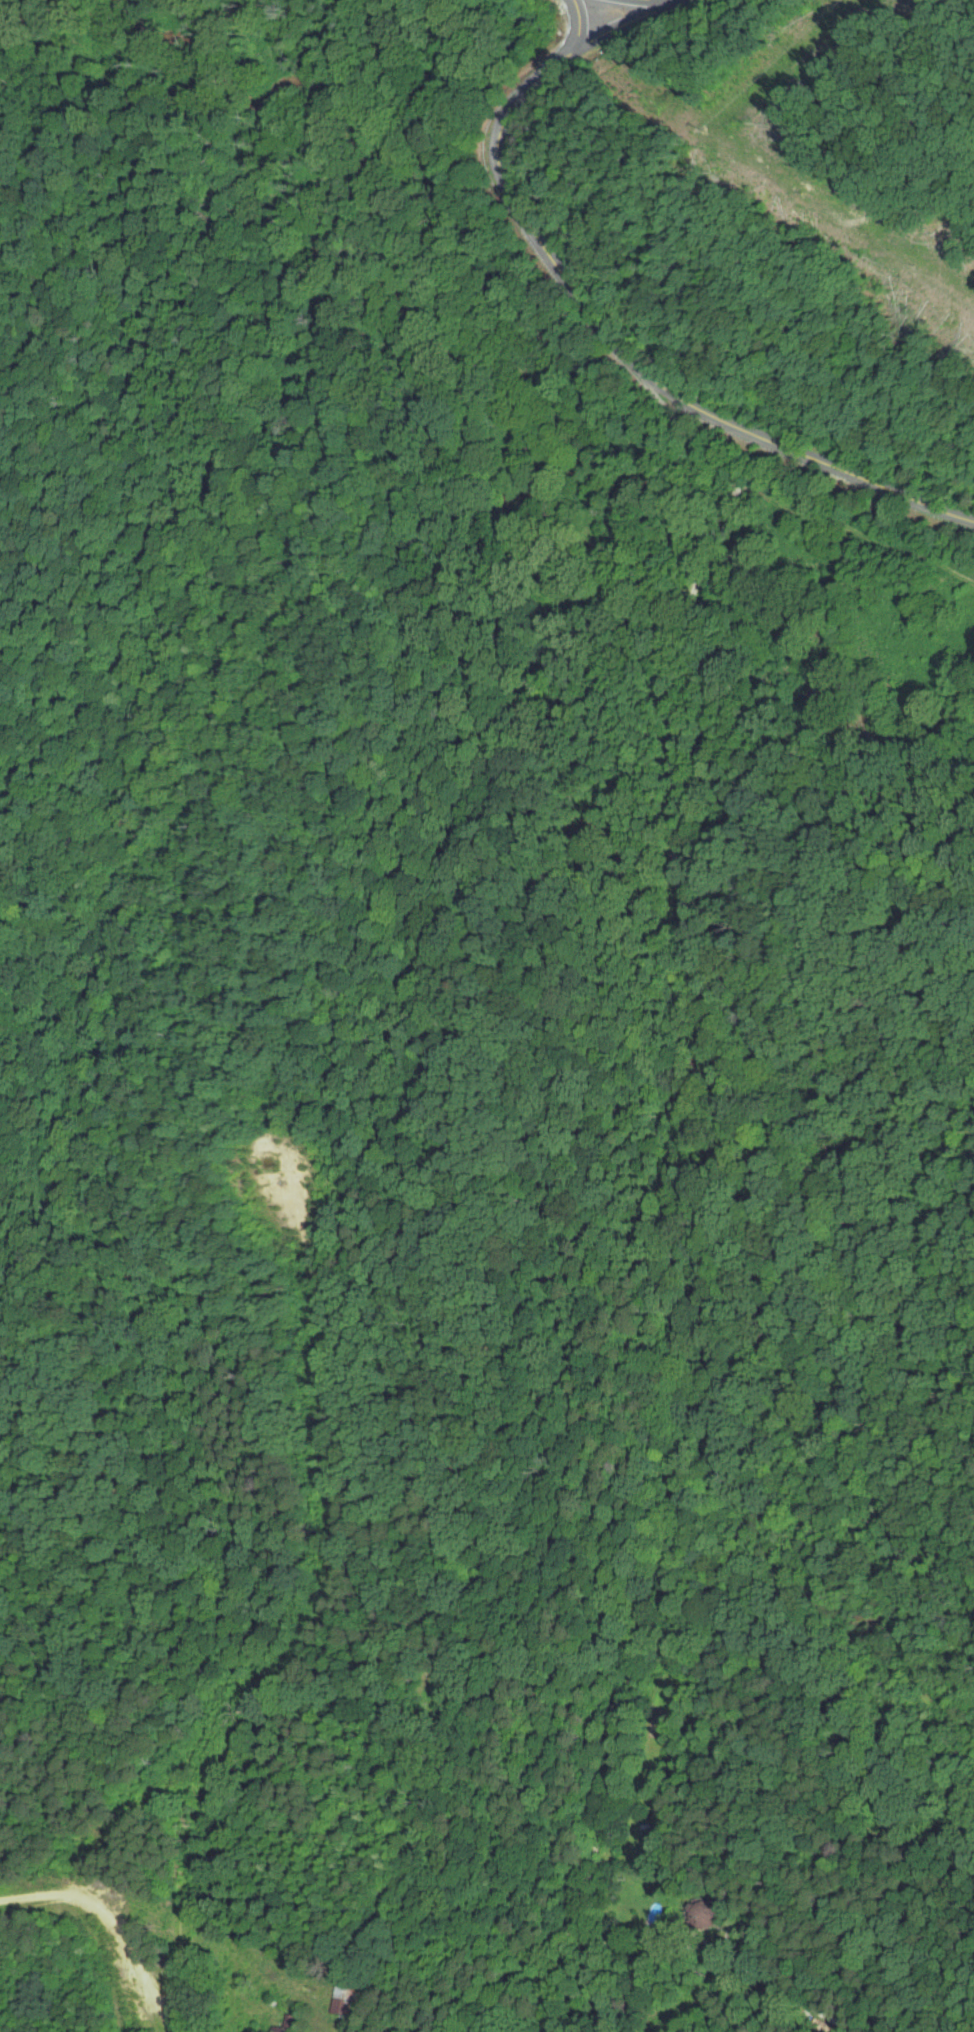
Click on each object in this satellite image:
road: (579, 25)
road: (474, 210)
road: (595, 314)
road: (682, 1240)
road: (98, 1938)
building: (343, 2002)

